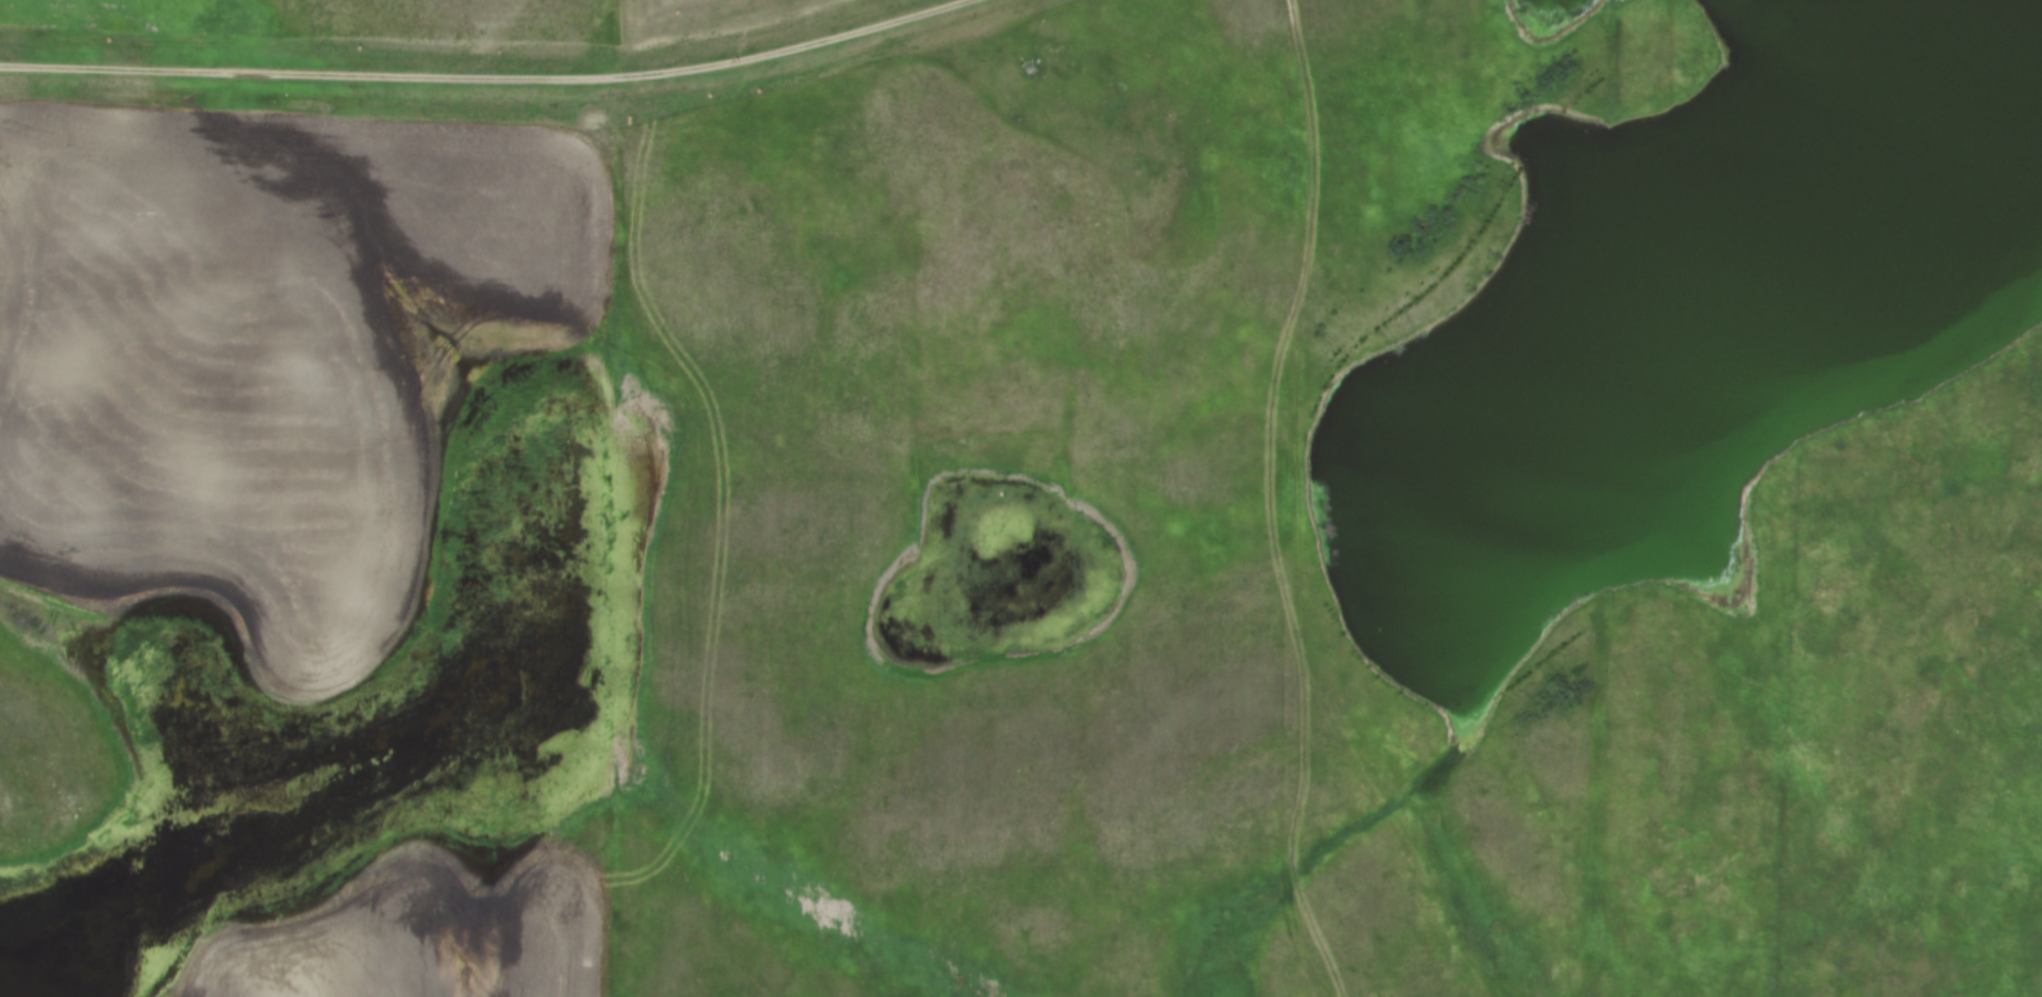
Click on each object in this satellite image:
road: (489, 75)

